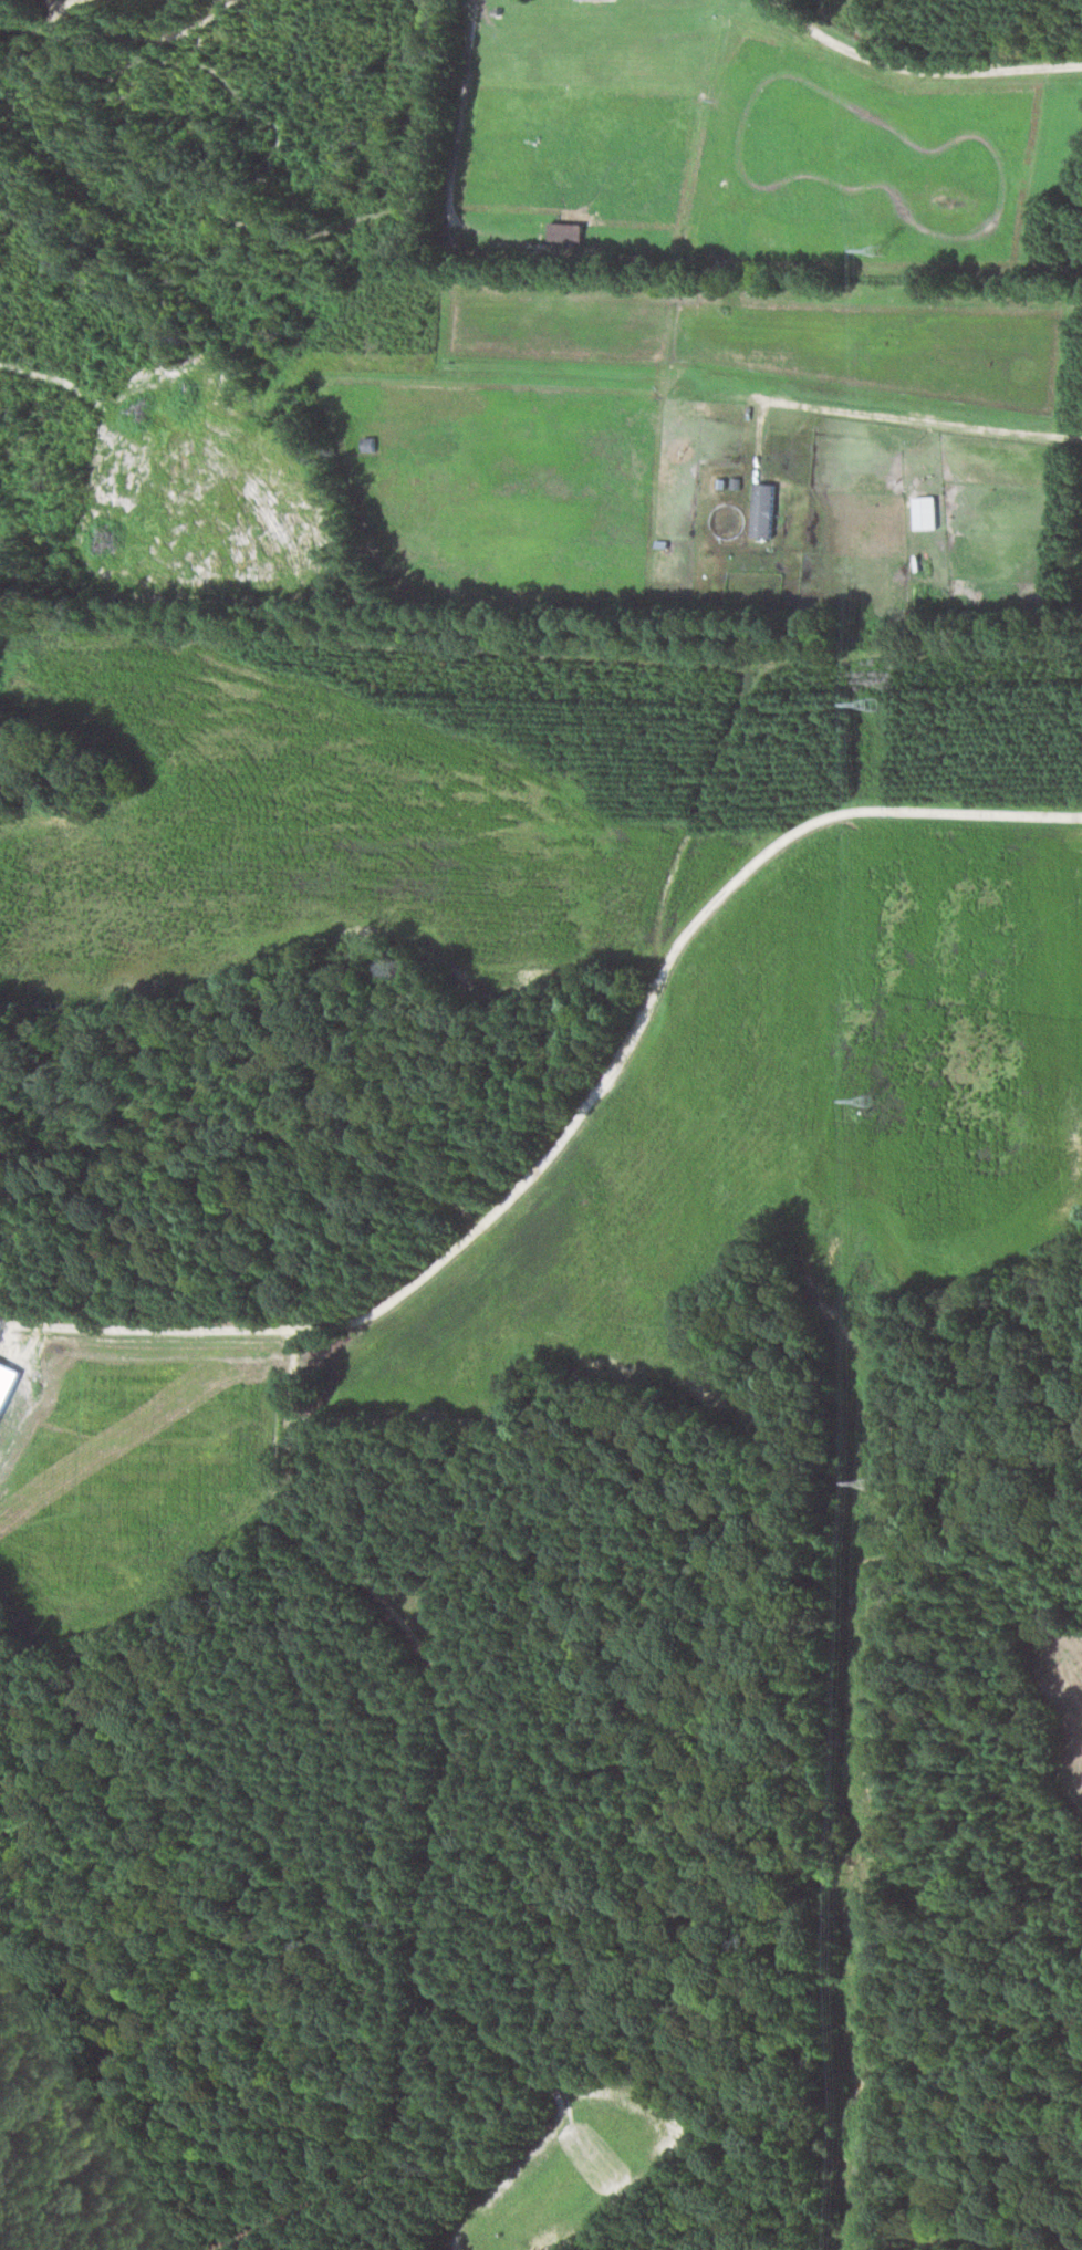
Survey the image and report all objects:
road: (919, 66)
power tower: (881, 251)
building: (766, 508)
building: (927, 510)
road: (937, 653)
power tower: (878, 702)
power tower: (874, 1104)
building: (1, 1409)
power tower: (864, 1490)
power tower: (865, 2168)

